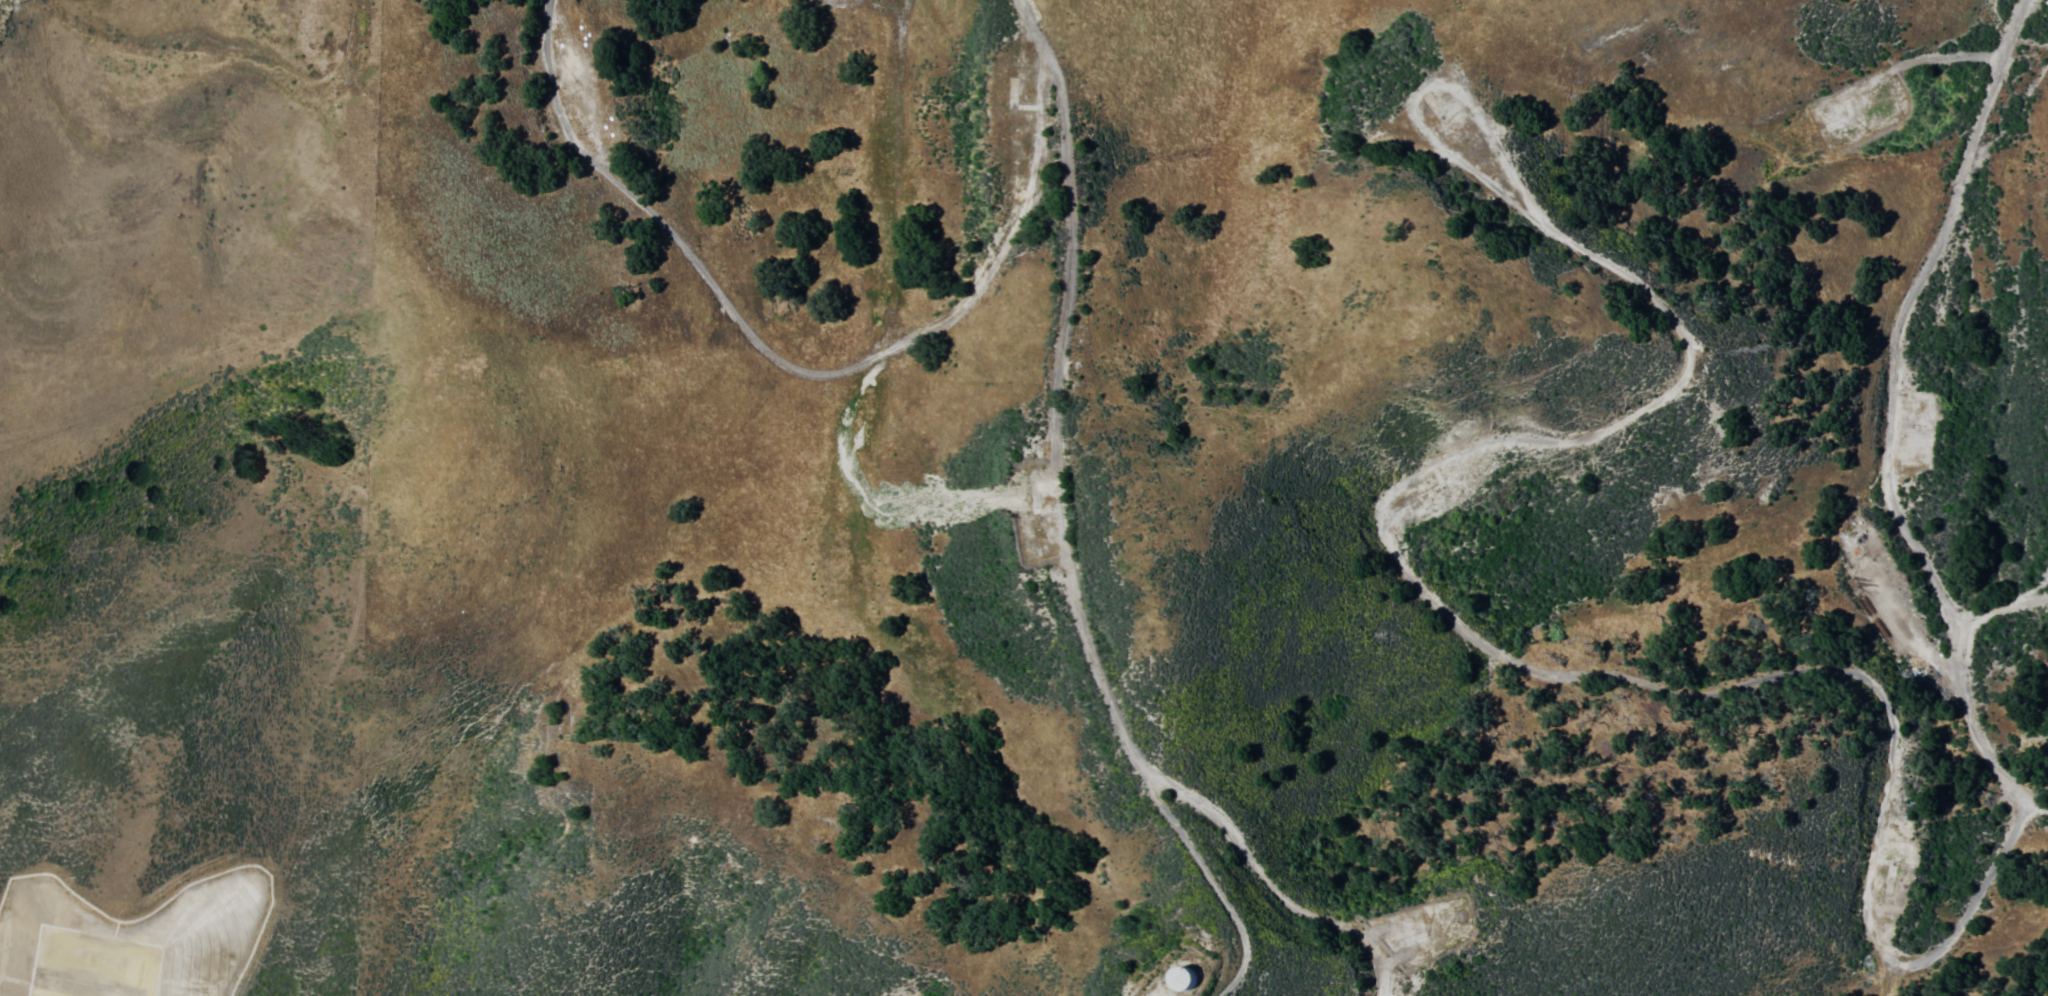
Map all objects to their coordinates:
road: (227, 43)
road: (790, 368)
road: (1888, 414)
road: (1066, 559)
road: (2000, 610)
road: (1548, 667)

